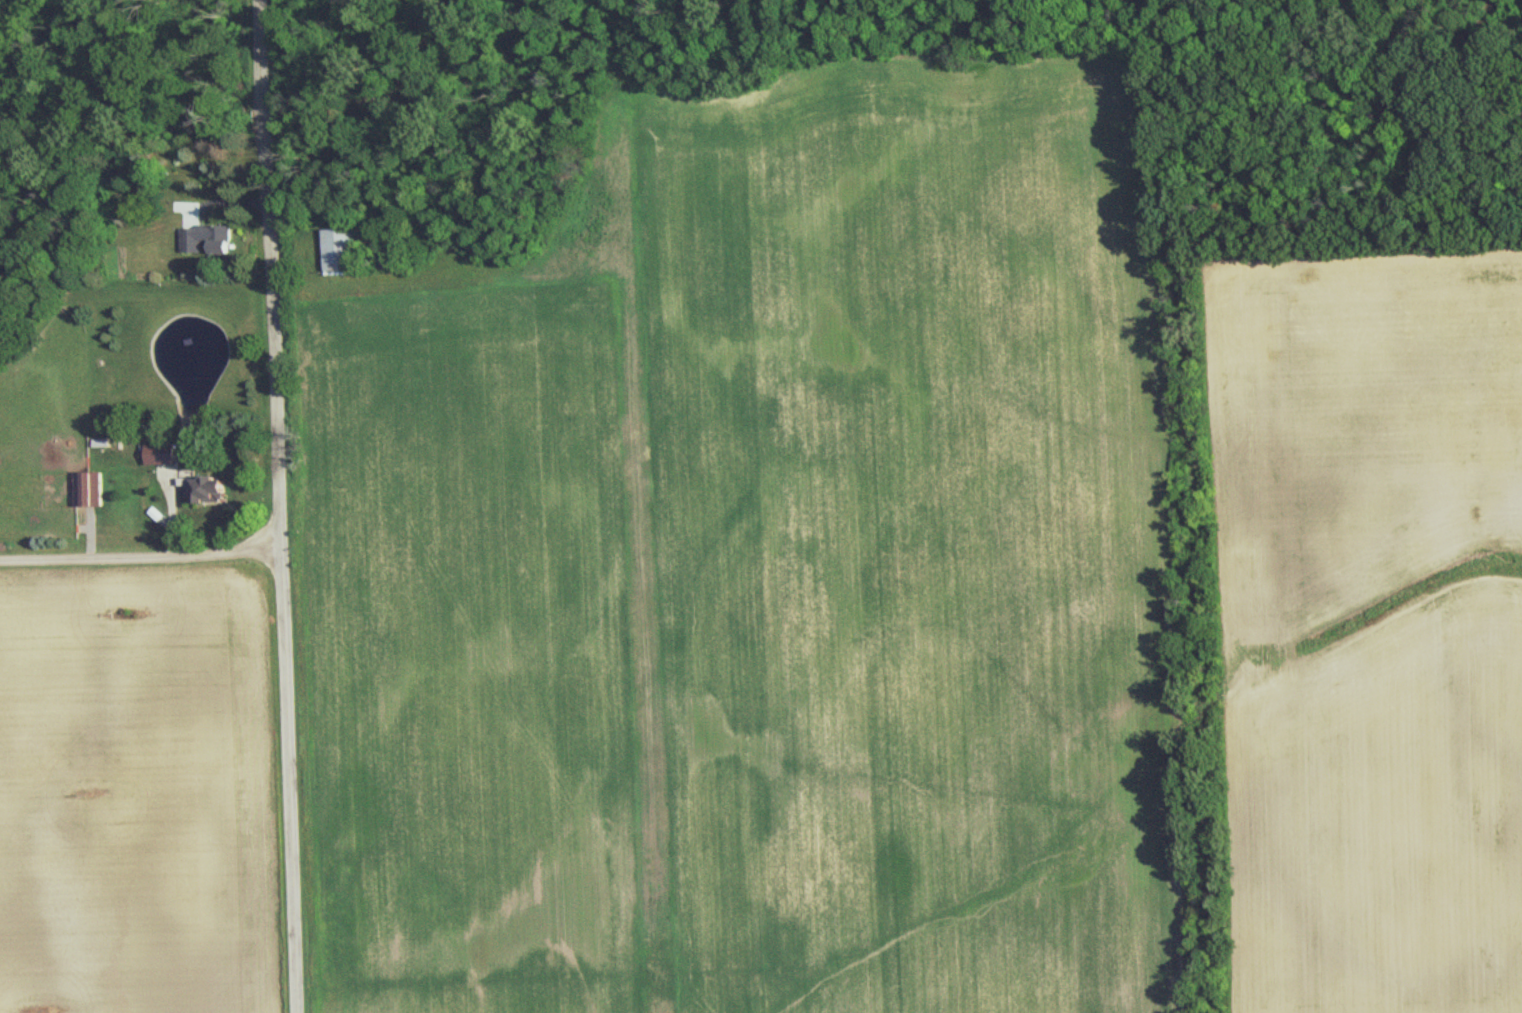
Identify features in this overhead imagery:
road: (260, 42)
road: (263, 100)
road: (265, 126)
building: (209, 235)
building: (342, 246)
building: (165, 450)
building: (210, 484)
building: (92, 486)
road: (138, 556)
road: (276, 574)

